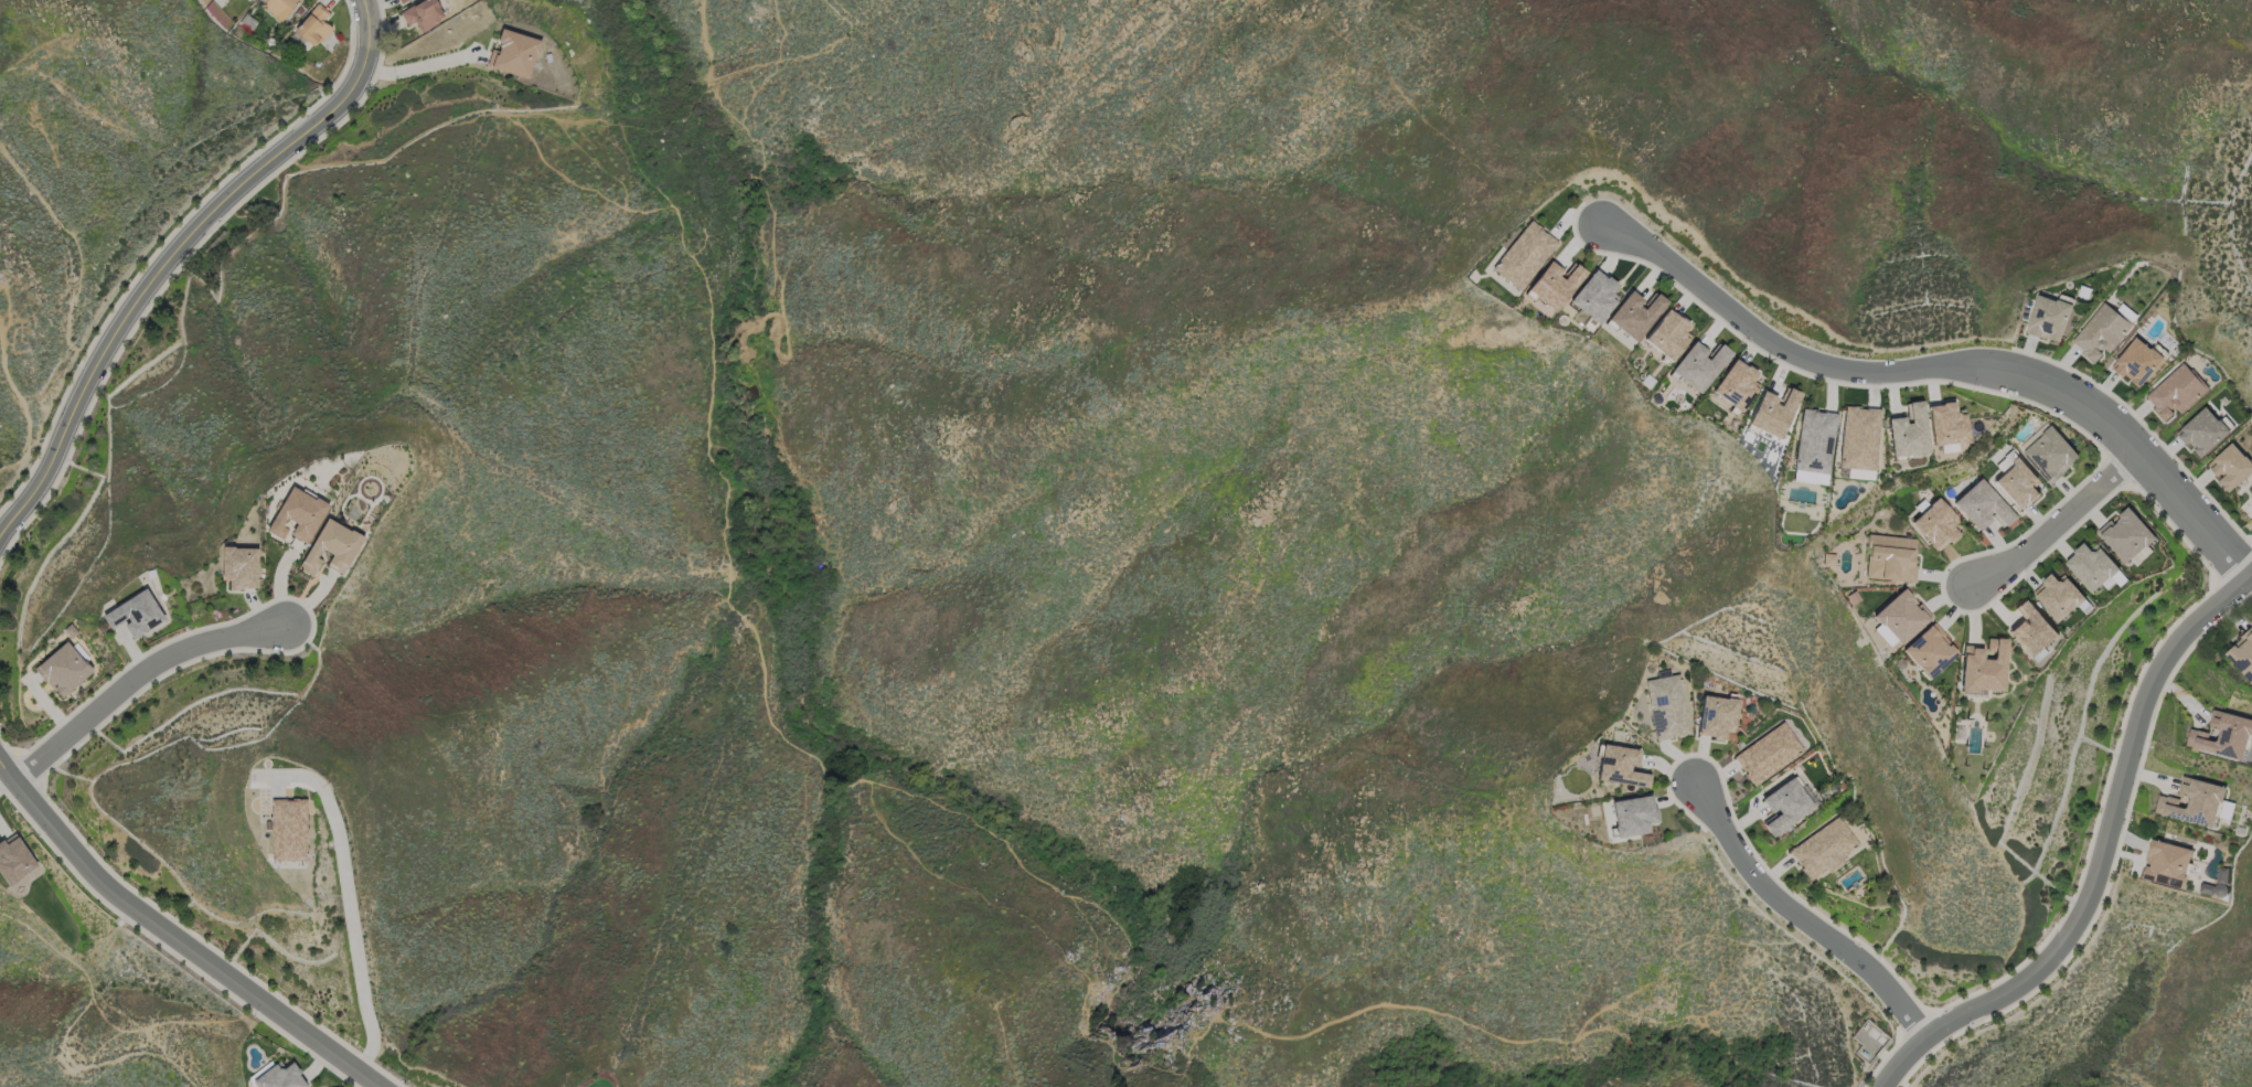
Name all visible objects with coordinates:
building: (401, 1)
building: (278, 7)
building: (421, 13)
road: (363, 18)
building: (312, 25)
building: (513, 53)
road: (419, 66)
building: (1524, 255)
road: (166, 265)
building: (1555, 284)
building: (1594, 296)
building: (1634, 315)
building: (2048, 318)
building: (2100, 332)
building: (1667, 334)
building: (2137, 362)
road: (1938, 363)
building: (1698, 364)
building: (1736, 384)
building: (2175, 391)
road: (29, 404)
building: (1772, 412)
building: (1945, 426)
building: (1908, 431)
building: (2202, 431)
building: (1859, 437)
building: (1814, 446)
building: (2048, 452)
building: (2230, 466)
building: (2016, 481)
building: (1981, 505)
building: (296, 514)
building: (1935, 524)
road: (2054, 525)
building: (2126, 534)
building: (330, 547)
building: (1889, 557)
building: (238, 566)
building: (2093, 567)
building: (2059, 596)
building: (134, 614)
building: (1900, 616)
building: (2031, 630)
building: (1929, 650)
building: (2242, 653)
building: (1983, 667)
building: (62, 669)
road: (143, 671)
building: (1666, 706)
building: (1716, 716)
building: (2221, 735)
building: (1767, 754)
building: (1620, 766)
building: (2191, 802)
building: (1783, 806)
building: (1632, 816)
building: (288, 828)
building: (1823, 849)
building: (13, 860)
road: (2099, 863)
building: (2167, 863)
building: (2216, 883)
road: (345, 903)
road: (1797, 912)
road: (177, 935)
road: (66, 1032)
building: (279, 1077)

